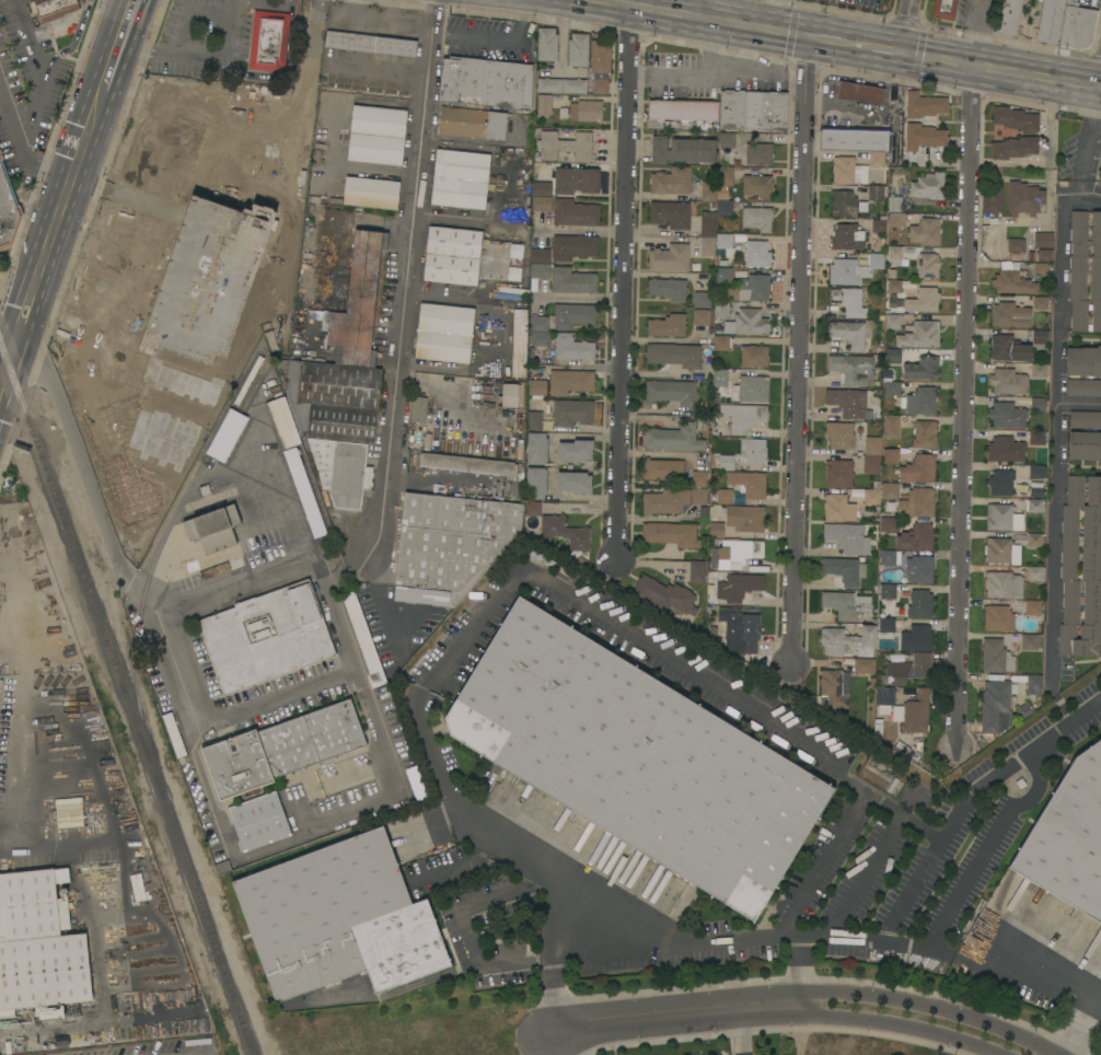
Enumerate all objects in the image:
road: (704, 1)
road: (267, 3)
road: (727, 7)
building: (53, 8)
building: (943, 9)
road: (522, 10)
road: (393, 13)
building: (1008, 16)
building: (1050, 21)
road: (379, 25)
road: (788, 25)
road: (906, 25)
building: (1077, 26)
road: (693, 27)
road: (436, 33)
traffic signals: (808, 35)
road: (823, 37)
road: (488, 38)
road: (72, 40)
building: (268, 40)
road: (116, 43)
building: (370, 43)
road: (855, 43)
building: (546, 44)
road: (884, 48)
building: (578, 49)
road: (904, 51)
road: (986, 53)
road: (311, 54)
road: (196, 60)
building: (600, 66)
road: (39, 70)
road: (286, 76)
road: (381, 76)
road: (694, 79)
road: (982, 79)
road: (1077, 82)
building: (486, 83)
building: (549, 85)
building: (573, 85)
road: (1098, 85)
building: (859, 92)
building: (549, 105)
building: (924, 105)
road: (844, 107)
building: (586, 111)
building: (753, 111)
building: (682, 115)
building: (1015, 118)
building: (472, 123)
building: (376, 135)
building: (923, 136)
building: (854, 138)
building: (727, 140)
road: (1087, 140)
building: (563, 144)
building: (1015, 147)
road: (19, 149)
building: (659, 149)
building: (692, 150)
building: (758, 153)
building: (876, 158)
building: (1100, 165)
building: (848, 171)
building: (725, 175)
building: (460, 178)
building: (1099, 179)
building: (671, 181)
building: (568, 182)
building: (757, 185)
building: (928, 186)
building: (708, 190)
building: (876, 192)
building: (370, 193)
road: (1081, 195)
building: (993, 198)
building: (1024, 198)
building: (541, 202)
building: (894, 202)
building: (843, 204)
building: (722, 207)
building: (8, 210)
building: (198, 211)
building: (575, 212)
building: (671, 213)
building: (756, 218)
building: (896, 219)
road: (51, 224)
building: (878, 225)
building: (925, 232)
building: (707, 233)
building: (847, 236)
building: (1043, 240)
building: (1016, 244)
building: (725, 245)
building: (572, 246)
building: (515, 251)
building: (541, 254)
building: (756, 254)
building: (1044, 254)
building: (452, 255)
building: (894, 255)
building: (669, 257)
building: (928, 265)
building: (854, 268)
building: (1042, 268)
building: (541, 271)
building: (1086, 271)
building: (514, 273)
road: (405, 276)
building: (722, 277)
building: (572, 280)
building: (1012, 280)
building: (893, 286)
road: (622, 289)
building: (668, 289)
building: (750, 289)
building: (700, 299)
building: (927, 299)
building: (847, 300)
building: (1040, 302)
road: (53, 309)
building: (720, 310)
road: (85, 314)
building: (572, 315)
building: (1010, 315)
building: (700, 316)
building: (538, 322)
building: (746, 323)
building: (667, 325)
building: (913, 332)
building: (444, 333)
building: (848, 334)
building: (1040, 336)
building: (540, 338)
building: (519, 343)
building: (721, 343)
building: (571, 347)
building: (1009, 348)
road: (800, 349)
building: (343, 351)
building: (673, 355)
building: (753, 356)
building: (891, 356)
road: (118, 357)
building: (1083, 361)
building: (919, 366)
road: (3, 368)
building: (851, 369)
building: (1039, 370)
building: (719, 378)
building: (569, 381)
building: (1008, 381)
building: (537, 386)
building: (892, 387)
building: (1083, 387)
building: (751, 389)
road: (153, 390)
road: (3, 392)
building: (672, 392)
building: (509, 395)
building: (919, 401)
building: (847, 402)
building: (1039, 404)
road: (1078, 406)
building: (418, 408)
building: (571, 411)
road: (961, 414)
building: (1007, 415)
building: (742, 416)
building: (1085, 419)
building: (281, 421)
building: (533, 421)
building: (891, 426)
building: (924, 433)
building: (224, 434)
building: (839, 434)
building: (673, 438)
building: (1036, 438)
road: (1055, 439)
building: (872, 445)
building: (1085, 445)
building: (536, 448)
building: (1006, 449)
building: (753, 450)
building: (575, 451)
building: (890, 455)
building: (291, 462)
building: (726, 463)
building: (467, 464)
building: (871, 464)
building: (918, 469)
building: (341, 471)
building: (663, 471)
building: (1035, 472)
building: (837, 473)
building: (699, 478)
building: (535, 483)
building: (573, 483)
building: (747, 483)
building: (1000, 483)
building: (1035, 489)
building: (889, 490)
road: (285, 491)
building: (725, 496)
building: (871, 497)
building: (673, 500)
road: (140, 501)
building: (917, 502)
building: (1034, 506)
building: (532, 508)
building: (838, 508)
building: (998, 517)
building: (744, 518)
building: (889, 524)
building: (716, 526)
building: (213, 529)
road: (112, 531)
building: (565, 532)
building: (670, 534)
building: (847, 537)
building: (916, 537)
building: (1034, 540)
building: (448, 544)
building: (997, 550)
building: (734, 553)
road: (338, 557)
building: (886, 557)
building: (1081, 568)
building: (919, 569)
building: (213, 570)
building: (845, 570)
building: (696, 571)
building: (1035, 573)
building: (1003, 584)
building: (738, 587)
road: (229, 590)
building: (886, 591)
road: (375, 592)
building: (665, 594)
building: (919, 603)
building: (846, 605)
building: (1033, 606)
road: (332, 617)
building: (998, 618)
building: (886, 624)
building: (744, 634)
building: (266, 636)
building: (916, 638)
building: (362, 640)
building: (847, 640)
building: (1029, 641)
building: (996, 656)
road: (671, 661)
building: (864, 665)
building: (909, 669)
building: (1033, 684)
building: (832, 688)
building: (884, 695)
railway: (126, 699)
road: (271, 702)
building: (995, 707)
building: (1024, 709)
building: (916, 712)
railway: (120, 716)
building: (173, 734)
building: (280, 749)
building: (636, 757)
road: (15, 773)
road: (902, 811)
building: (67, 812)
building: (258, 821)
road: (5, 827)
road: (312, 830)
road: (939, 835)
building: (1068, 837)
road: (20, 847)
road: (464, 862)
road: (867, 873)
road: (595, 912)
building: (338, 918)
building: (38, 946)
road: (662, 946)
road: (1048, 964)
road: (801, 975)
road: (877, 994)
road: (848, 1016)
road: (614, 1019)
road: (1079, 1023)
road: (742, 1036)
road: (550, 1044)
road: (1059, 1054)
road: (1062, 1054)

